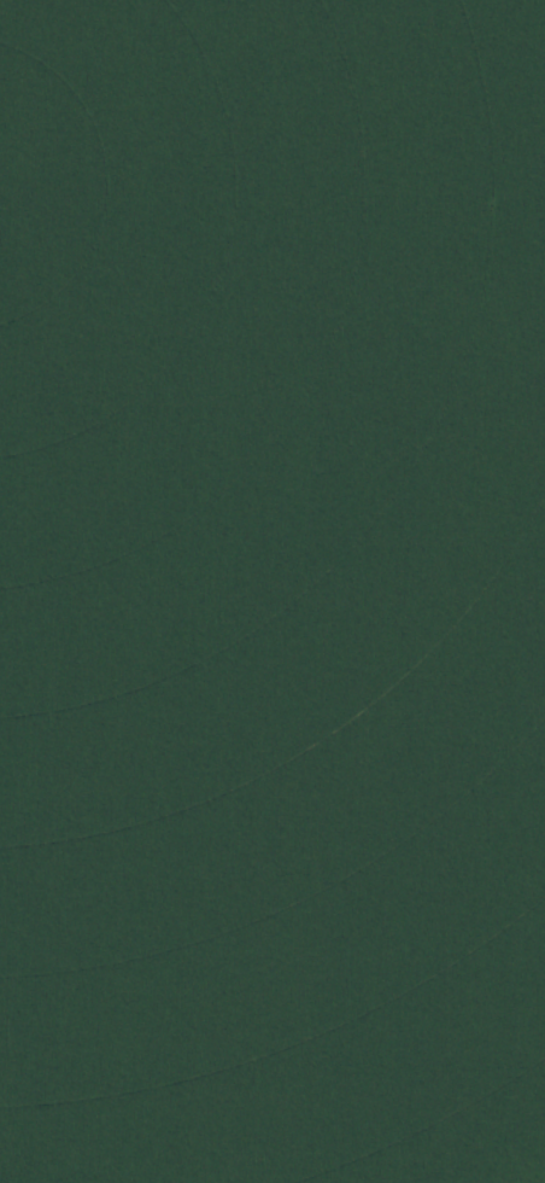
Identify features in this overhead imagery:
crop: (272, 591)

